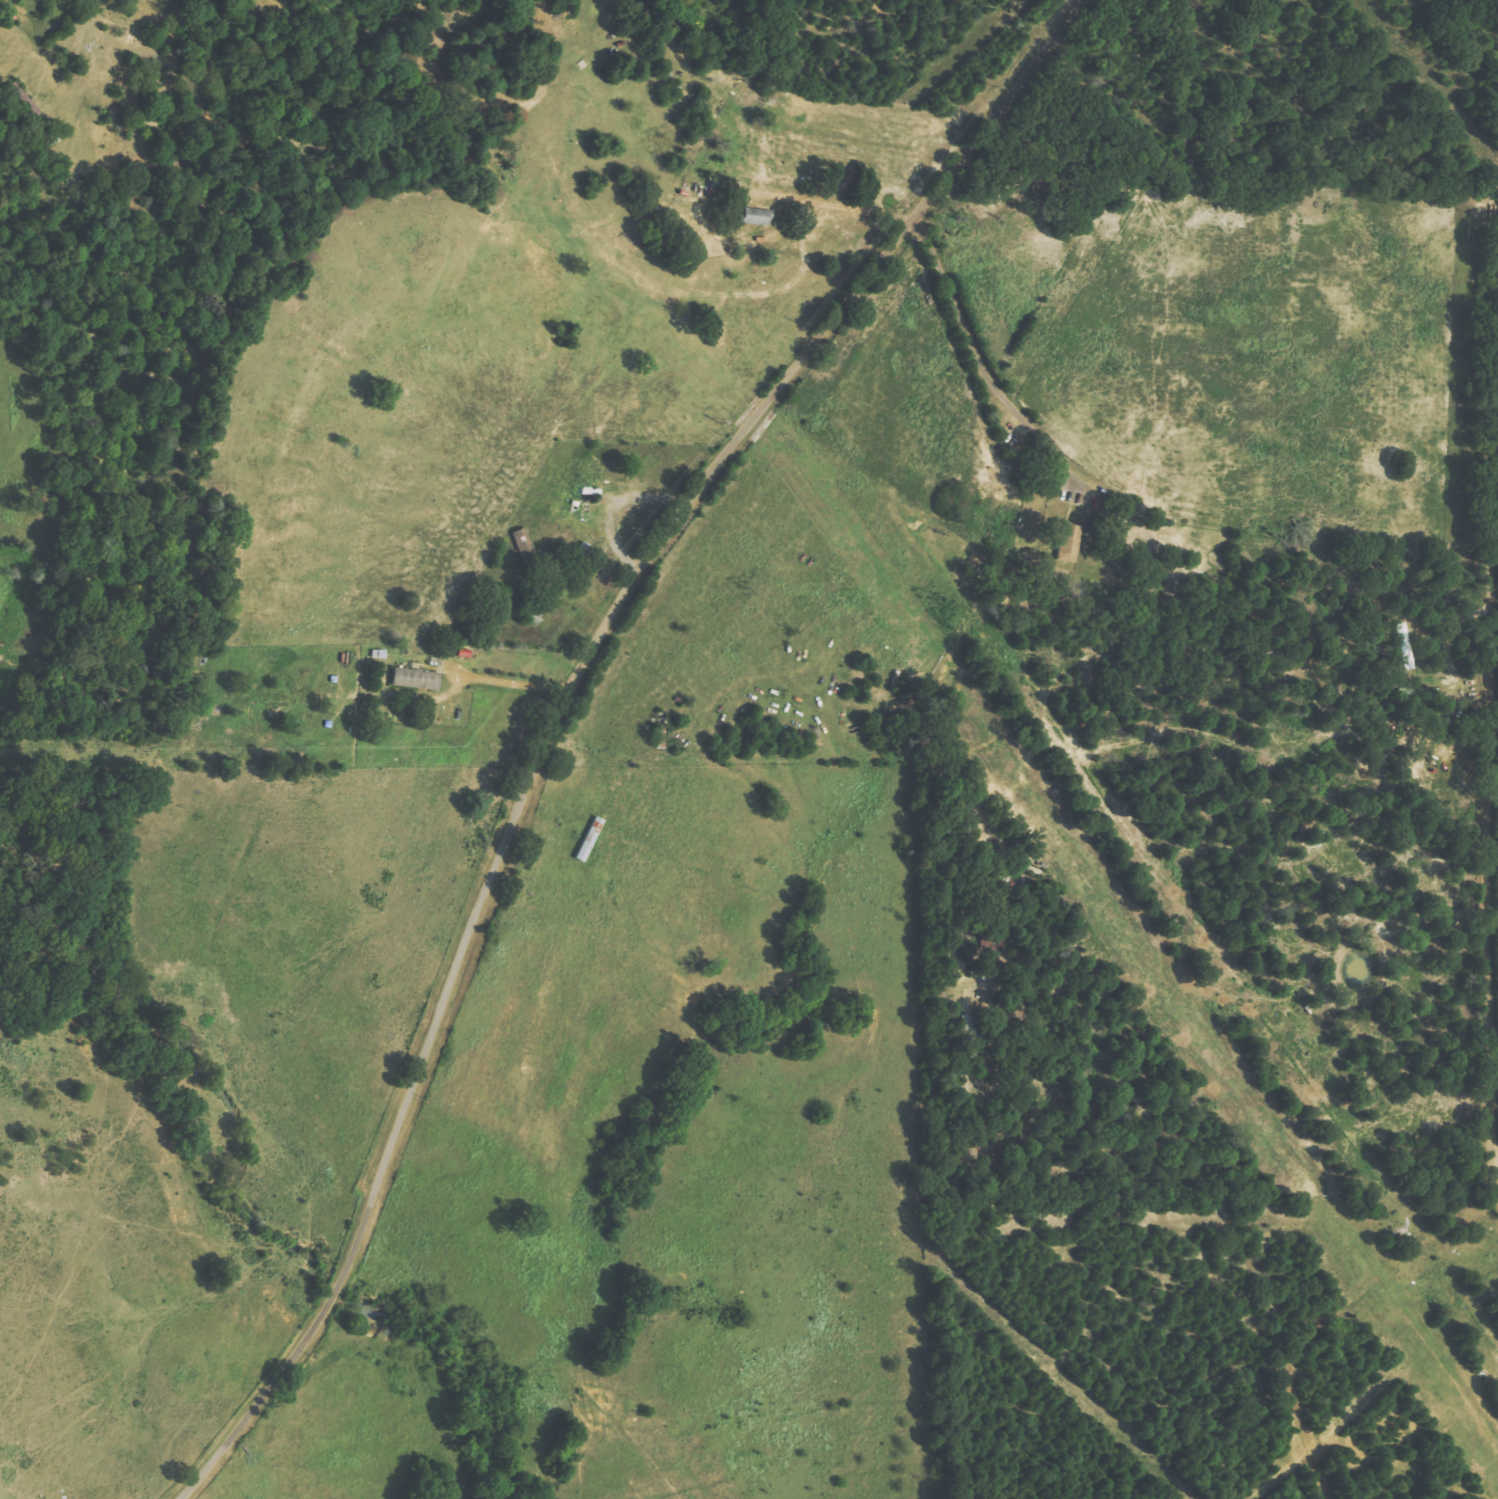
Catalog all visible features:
building: (47, 1)
building: (757, 217)
road: (971, 344)
building: (1068, 541)
building: (418, 680)
road: (559, 713)
road: (1489, 806)
building: (590, 839)
road: (1314, 1291)

